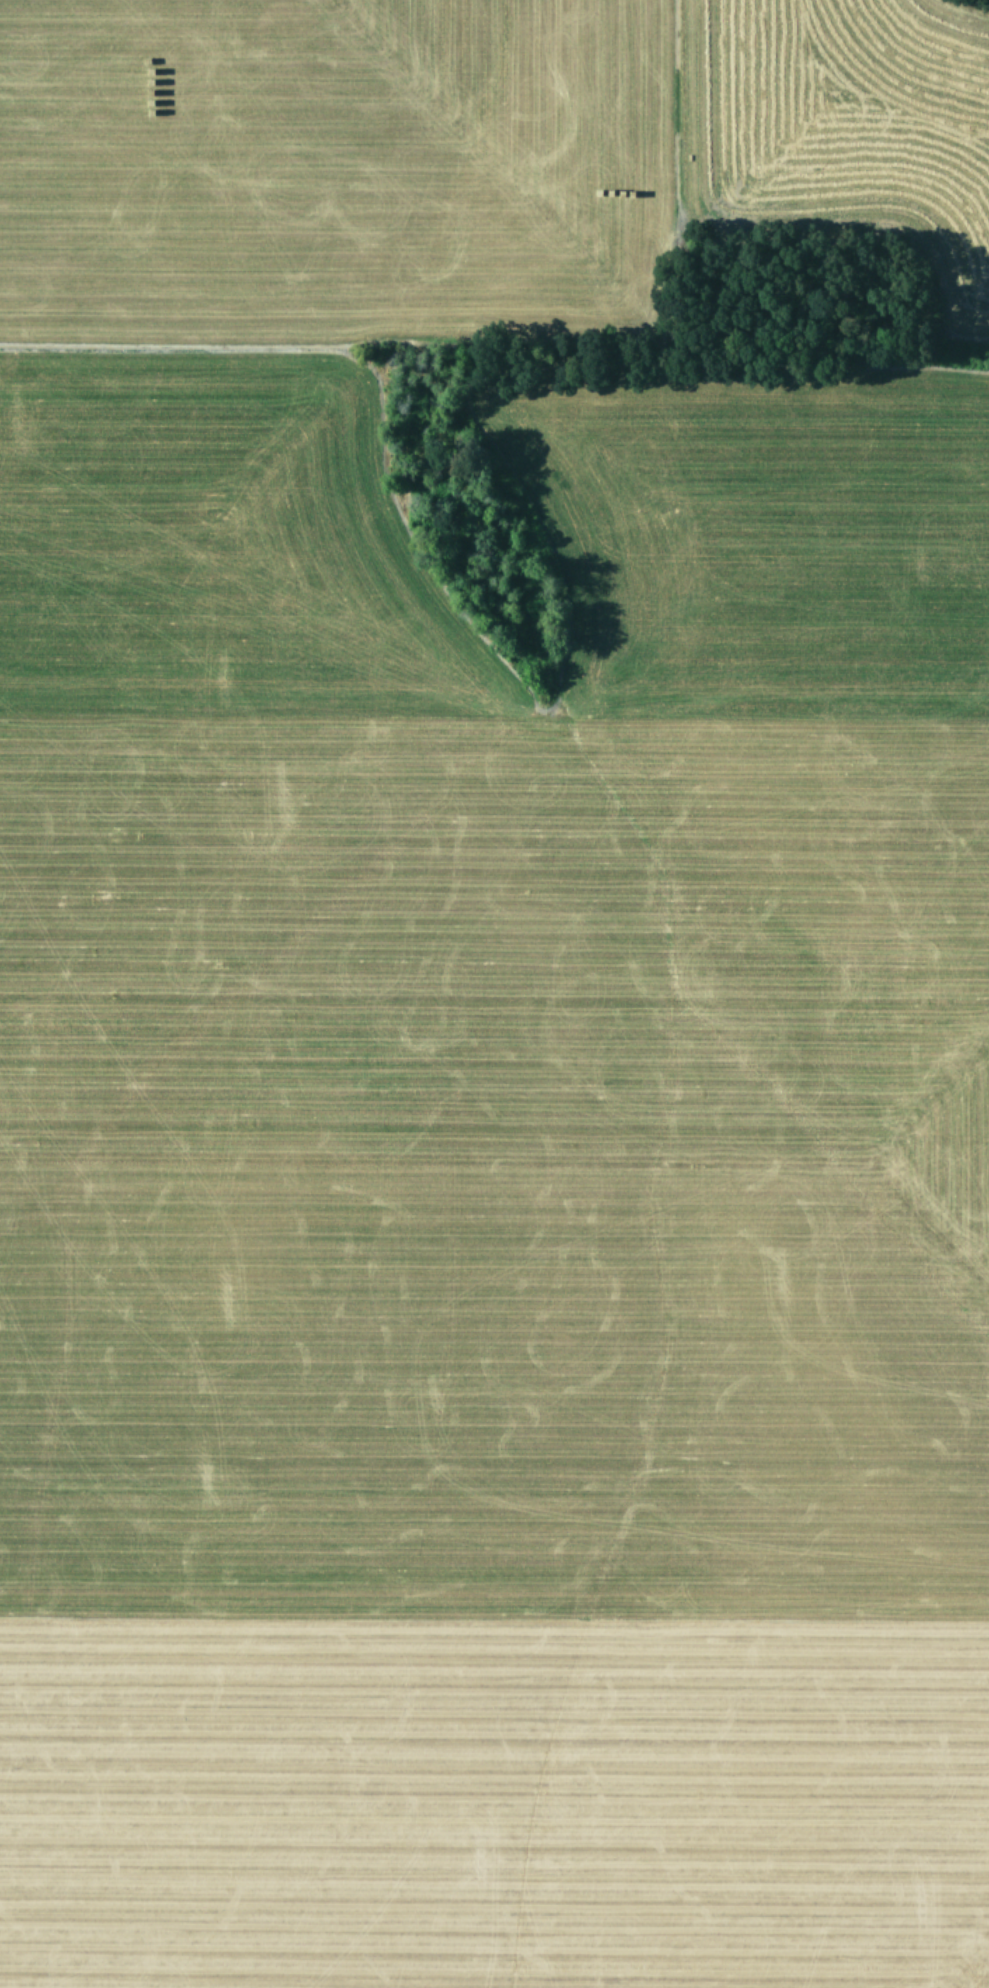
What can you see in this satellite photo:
crop: (487, 1025)

